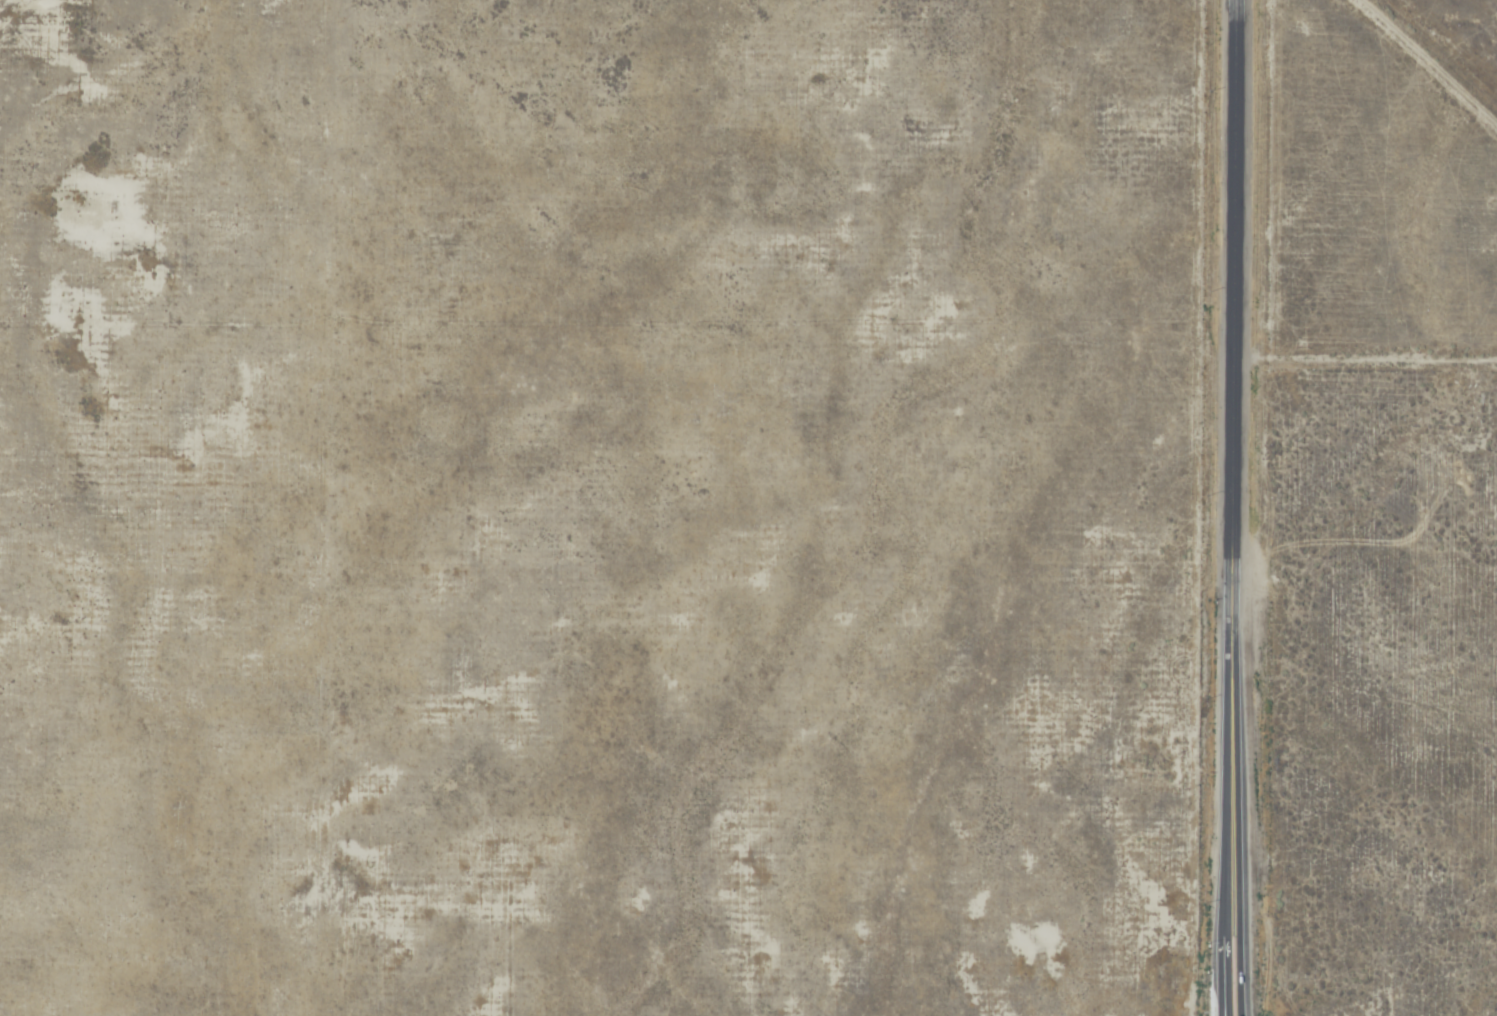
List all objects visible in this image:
road: (1240, 508)

